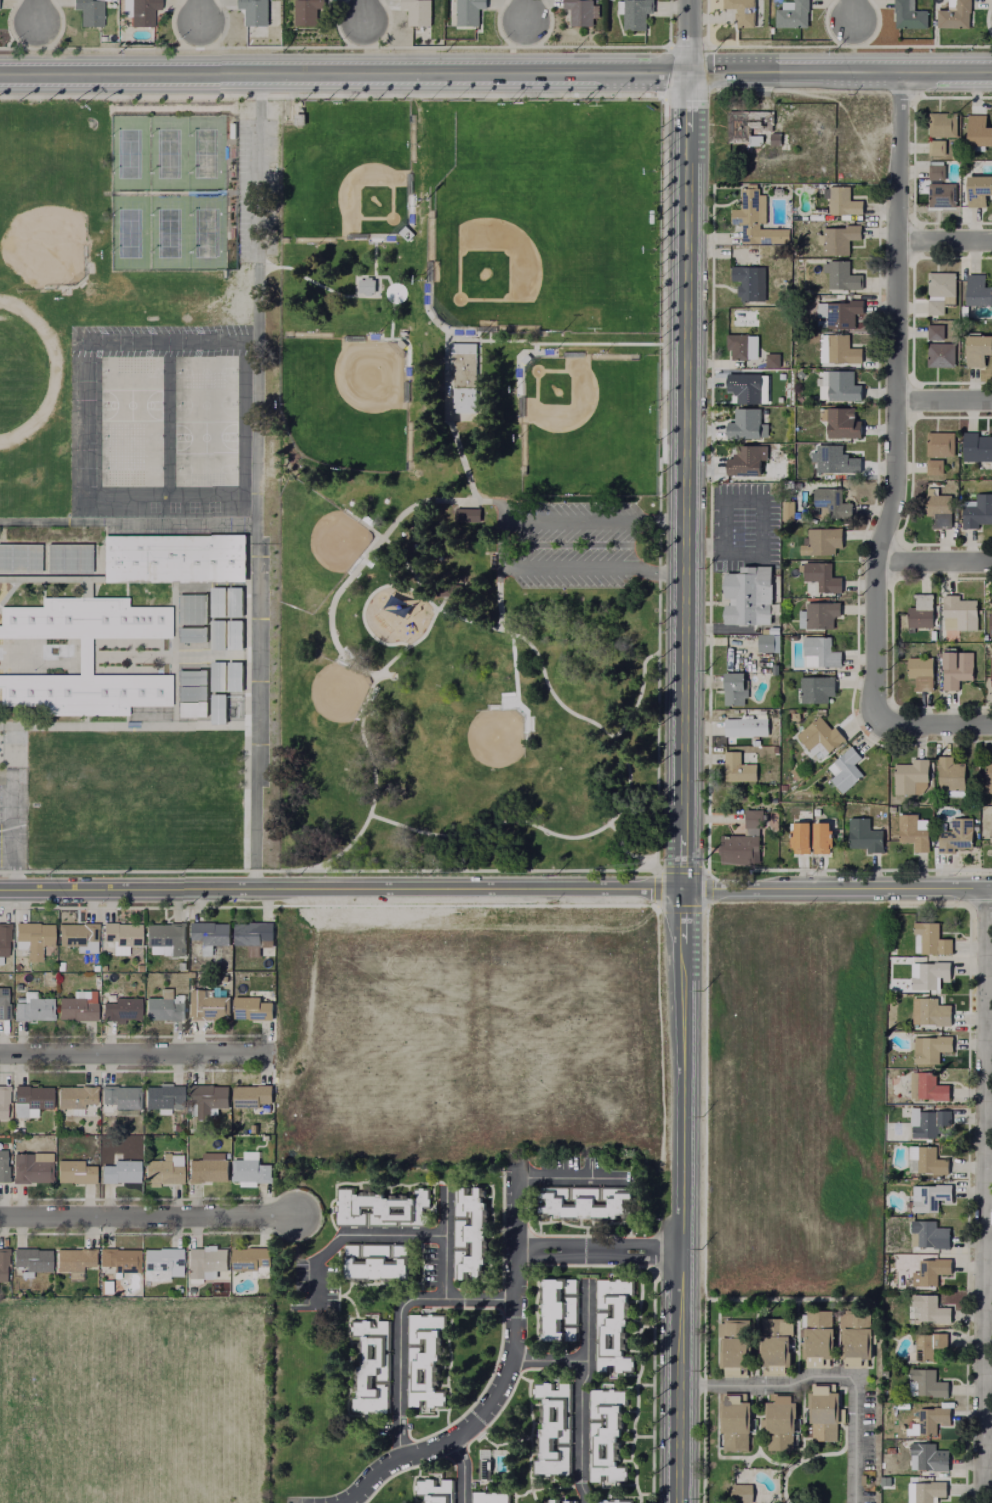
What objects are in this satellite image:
building: (141, 11)
building: (257, 11)
building: (581, 11)
building: (306, 12)
building: (469, 12)
road: (36, 13)
road: (360, 13)
road: (520, 13)
building: (636, 13)
road: (199, 14)
road: (850, 14)
building: (418, 15)
building: (910, 15)
building: (956, 15)
building: (743, 17)
building: (98, 18)
building: (792, 20)
road: (686, 35)
road: (947, 69)
road: (794, 70)
road: (342, 71)
road: (685, 102)
building: (299, 119)
building: (748, 124)
building: (943, 125)
building: (979, 131)
building: (773, 138)
building: (937, 148)
park: (130, 153)
park: (168, 153)
park: (207, 153)
building: (937, 172)
park: (350, 177)
parking lot: (257, 189)
building: (979, 191)
road: (172, 193)
road: (245, 193)
building: (943, 195)
building: (843, 202)
park: (543, 215)
building: (756, 219)
park: (206, 232)
park: (130, 233)
park: (169, 233)
building: (404, 233)
park: (47, 239)
building: (841, 239)
road: (944, 242)
road: (374, 257)
road: (355, 277)
building: (842, 277)
building: (749, 279)
building: (942, 285)
building: (366, 286)
building: (978, 290)
road: (377, 296)
building: (936, 307)
building: (840, 315)
building: (435, 320)
road: (436, 326)
building: (941, 332)
park: (99, 340)
park: (148, 340)
park: (198, 340)
road: (472, 342)
building: (400, 346)
building: (739, 347)
building: (842, 350)
building: (979, 350)
building: (942, 355)
building: (524, 356)
building: (773, 361)
park: (132, 373)
park: (205, 373)
track: (54, 378)
building: (464, 379)
park: (84, 380)
building: (843, 386)
building: (745, 388)
road: (895, 399)
park: (345, 402)
road: (943, 403)
park: (131, 405)
park: (205, 405)
park: (573, 409)
park: (83, 424)
building: (843, 424)
building: (744, 425)
park: (131, 438)
park: (205, 438)
building: (941, 445)
building: (978, 447)
building: (834, 460)
building: (744, 461)
park: (84, 467)
building: (936, 467)
park: (131, 470)
park: (205, 470)
road: (659, 479)
road: (256, 482)
park: (467, 484)
road: (761, 503)
building: (833, 504)
building: (941, 511)
building: (794, 512)
building: (978, 512)
road: (684, 513)
building: (467, 516)
road: (128, 521)
park: (320, 541)
building: (823, 542)
parking lot: (575, 545)
road: (374, 546)
road: (503, 546)
road: (704, 548)
building: (19, 557)
building: (68, 557)
building: (173, 559)
road: (933, 563)
building: (823, 577)
building: (51, 579)
building: (448, 591)
building: (751, 597)
road: (499, 598)
building: (233, 602)
building: (216, 603)
road: (362, 609)
building: (190, 610)
building: (922, 612)
building: (963, 612)
building: (820, 616)
road: (174, 618)
building: (41, 619)
building: (127, 619)
building: (991, 624)
building: (191, 635)
building: (216, 636)
building: (233, 636)
building: (767, 644)
building: (84, 648)
building: (823, 651)
road: (161, 655)
road: (131, 656)
road: (171, 657)
building: (958, 670)
building: (990, 671)
building: (922, 673)
building: (216, 677)
building: (233, 677)
building: (191, 678)
building: (736, 686)
building: (819, 691)
building: (128, 692)
building: (41, 693)
building: (191, 693)
road: (639, 694)
road: (246, 696)
park: (321, 702)
building: (191, 709)
building: (217, 709)
building: (819, 714)
road: (114, 726)
road: (932, 726)
building: (748, 727)
road: (605, 731)
building: (821, 739)
road: (363, 742)
park: (484, 748)
building: (738, 769)
building: (846, 771)
building: (911, 777)
building: (952, 777)
building: (989, 779)
parking lot: (13, 818)
building: (990, 829)
road: (14, 834)
building: (914, 834)
building: (865, 837)
building: (957, 837)
building: (801, 839)
building: (823, 840)
building: (745, 842)
road: (625, 852)
road: (496, 892)
road: (682, 918)
building: (78, 929)
building: (251, 929)
building: (122, 933)
building: (210, 933)
building: (34, 935)
building: (166, 935)
building: (928, 936)
building: (4, 937)
building: (926, 971)
building: (3, 999)
building: (78, 1003)
building: (207, 1003)
building: (34, 1004)
building: (164, 1004)
building: (120, 1005)
building: (251, 1006)
building: (932, 1009)
building: (927, 1045)
road: (133, 1054)
building: (924, 1083)
building: (248, 1094)
building: (117, 1095)
building: (162, 1095)
building: (72, 1096)
building: (29, 1097)
building: (2, 1098)
building: (205, 1098)
building: (926, 1119)
building: (2, 1155)
building: (924, 1157)
building: (28, 1165)
building: (205, 1165)
building: (247, 1166)
building: (161, 1167)
building: (72, 1168)
building: (118, 1168)
road: (561, 1177)
building: (928, 1194)
road: (984, 1196)
building: (585, 1204)
building: (382, 1207)
road: (443, 1213)
road: (147, 1216)
road: (678, 1223)
building: (929, 1229)
building: (470, 1233)
road: (597, 1251)
building: (159, 1255)
building: (117, 1256)
building: (247, 1256)
building: (29, 1257)
building: (71, 1257)
building: (203, 1260)
building: (1, 1261)
building: (377, 1262)
building: (931, 1266)
road: (443, 1275)
road: (479, 1298)
building: (928, 1306)
building: (558, 1309)
building: (611, 1323)
building: (853, 1337)
building: (815, 1338)
building: (929, 1344)
building: (772, 1345)
building: (732, 1347)
building: (423, 1360)
road: (549, 1361)
building: (373, 1367)
road: (507, 1375)
road: (825, 1378)
building: (924, 1381)
road: (578, 1392)
building: (823, 1414)
building: (926, 1418)
building: (733, 1420)
building: (776, 1423)
building: (551, 1428)
building: (606, 1436)
building: (926, 1455)
road: (461, 1470)
building: (483, 1470)
building: (922, 1490)
building: (433, 1491)
building: (740, 1494)
building: (491, 1497)
building: (556, 1502)
building: (606, 1502)

